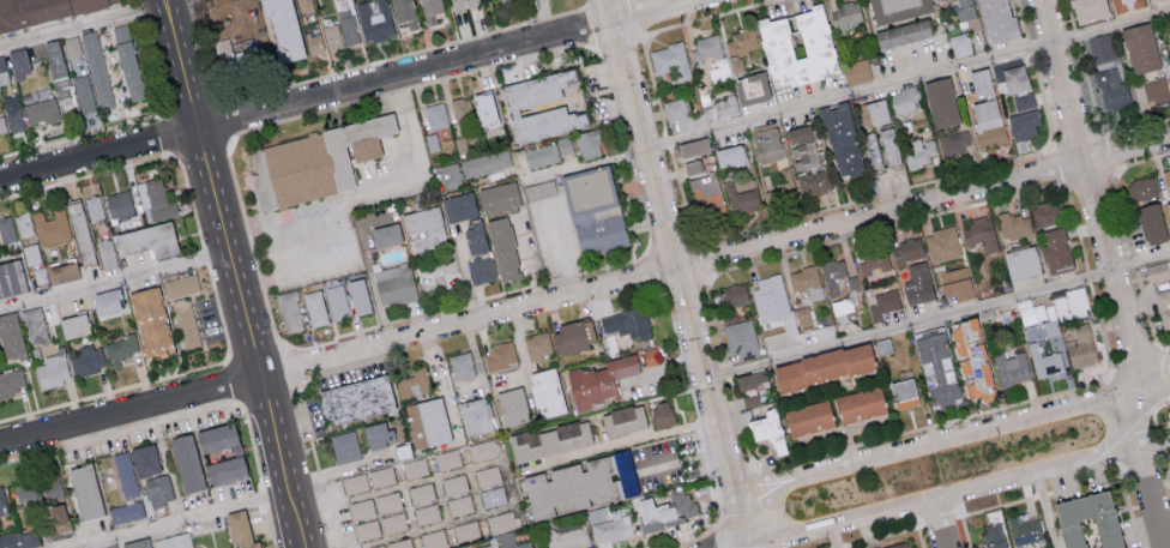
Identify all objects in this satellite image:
building: (1154, 0)
road: (131, 1)
building: (463, 4)
building: (306, 5)
building: (1128, 5)
building: (965, 8)
building: (897, 10)
building: (1087, 10)
road: (133, 11)
building: (430, 11)
building: (404, 12)
building: (48, 13)
building: (845, 14)
building: (995, 20)
road: (90, 23)
building: (379, 25)
building: (348, 26)
building: (283, 29)
building: (901, 34)
building: (332, 36)
building: (315, 42)
building: (960, 44)
building: (796, 47)
building: (71, 48)
building: (1102, 48)
building: (1140, 48)
building: (705, 52)
building: (237, 53)
building: (19, 59)
building: (127, 61)
building: (670, 61)
building: (97, 70)
road: (150, 70)
building: (2, 71)
building: (857, 71)
building: (1009, 78)
road: (907, 80)
building: (1156, 89)
road: (354, 90)
building: (1112, 90)
building: (83, 94)
building: (743, 95)
building: (903, 101)
building: (525, 102)
building: (940, 102)
building: (487, 107)
building: (462, 109)
building: (676, 109)
building: (984, 109)
building: (41, 110)
building: (13, 113)
building: (872, 113)
building: (436, 115)
road: (164, 116)
building: (1025, 118)
building: (1, 126)
road: (168, 136)
road: (77, 137)
building: (840, 141)
building: (954, 143)
building: (587, 144)
building: (802, 146)
building: (887, 146)
building: (692, 147)
building: (919, 150)
building: (872, 151)
building: (545, 152)
building: (729, 156)
building: (312, 161)
building: (486, 162)
building: (690, 167)
building: (451, 174)
road: (85, 175)
building: (1166, 180)
building: (814, 182)
building: (539, 188)
building: (1141, 189)
building: (707, 194)
road: (189, 197)
building: (497, 197)
building: (156, 199)
building: (119, 203)
road: (338, 203)
building: (94, 206)
building: (459, 206)
building: (593, 210)
building: (1044, 212)
building: (1168, 216)
building: (23, 221)
building: (418, 221)
building: (1151, 223)
building: (1012, 224)
building: (52, 225)
building: (6, 228)
road: (287, 231)
building: (79, 233)
building: (386, 233)
building: (475, 237)
building: (147, 239)
building: (428, 241)
building: (942, 243)
building: (502, 247)
road: (562, 248)
building: (907, 249)
building: (1054, 249)
building: (107, 253)
road: (205, 255)
building: (1020, 261)
building: (874, 263)
building: (481, 270)
building: (1157, 270)
building: (61, 271)
road: (236, 272)
road: (1111, 272)
road: (679, 273)
building: (832, 275)
building: (10, 277)
road: (115, 281)
building: (807, 281)
building: (917, 282)
building: (955, 282)
building: (394, 283)
building: (181, 285)
road: (585, 294)
building: (735, 294)
building: (358, 295)
building: (771, 297)
building: (104, 300)
building: (338, 301)
building: (883, 303)
building: (1072, 303)
building: (315, 307)
building: (1163, 307)
road: (219, 311)
building: (290, 311)
building: (1026, 311)
road: (939, 318)
building: (150, 319)
building: (627, 321)
building: (186, 323)
building: (34, 324)
building: (73, 324)
building: (10, 336)
building: (572, 336)
building: (741, 338)
building: (537, 344)
building: (882, 345)
building: (1081, 347)
building: (120, 348)
building: (651, 355)
building: (499, 356)
building: (970, 357)
building: (89, 359)
building: (1047, 362)
building: (935, 363)
building: (462, 365)
building: (820, 365)
building: (1011, 367)
building: (53, 371)
road: (234, 379)
building: (597, 379)
building: (749, 379)
building: (12, 380)
building: (414, 383)
road: (115, 390)
building: (545, 391)
building: (903, 392)
building: (355, 398)
building: (750, 399)
building: (857, 403)
building: (509, 405)
building: (661, 414)
building: (1168, 414)
building: (474, 416)
building: (806, 416)
building: (622, 418)
building: (426, 421)
building: (766, 429)
road: (119, 430)
building: (378, 434)
road: (955, 436)
building: (549, 439)
road: (252, 444)
building: (344, 445)
building: (478, 450)
building: (236, 453)
building: (144, 458)
building: (447, 458)
building: (186, 460)
road: (682, 463)
building: (415, 466)
road: (339, 470)
building: (125, 472)
building: (381, 475)
building: (488, 475)
building: (354, 482)
building: (454, 484)
building: (37, 486)
building: (158, 489)
road: (972, 489)
building: (84, 490)
building: (421, 492)
road: (264, 496)
building: (493, 496)
building: (388, 501)
building: (2, 502)
building: (459, 505)
building: (361, 508)
building: (667, 510)
road: (1045, 510)
building: (126, 511)
building: (427, 513)
road: (1165, 518)
building: (56, 519)
road: (181, 519)
building: (502, 520)
building: (1087, 520)
building: (394, 522)
road: (940, 524)
road: (270, 526)
building: (613, 526)
building: (366, 529)
building: (1024, 529)
building: (241, 530)
building: (466, 530)
building: (993, 535)
road: (834, 536)
building: (568, 537)
building: (19, 538)
building: (433, 538)
building: (174, 541)
building: (507, 542)
building: (135, 543)
building: (396, 543)
building: (895, 544)
road: (97, 546)

